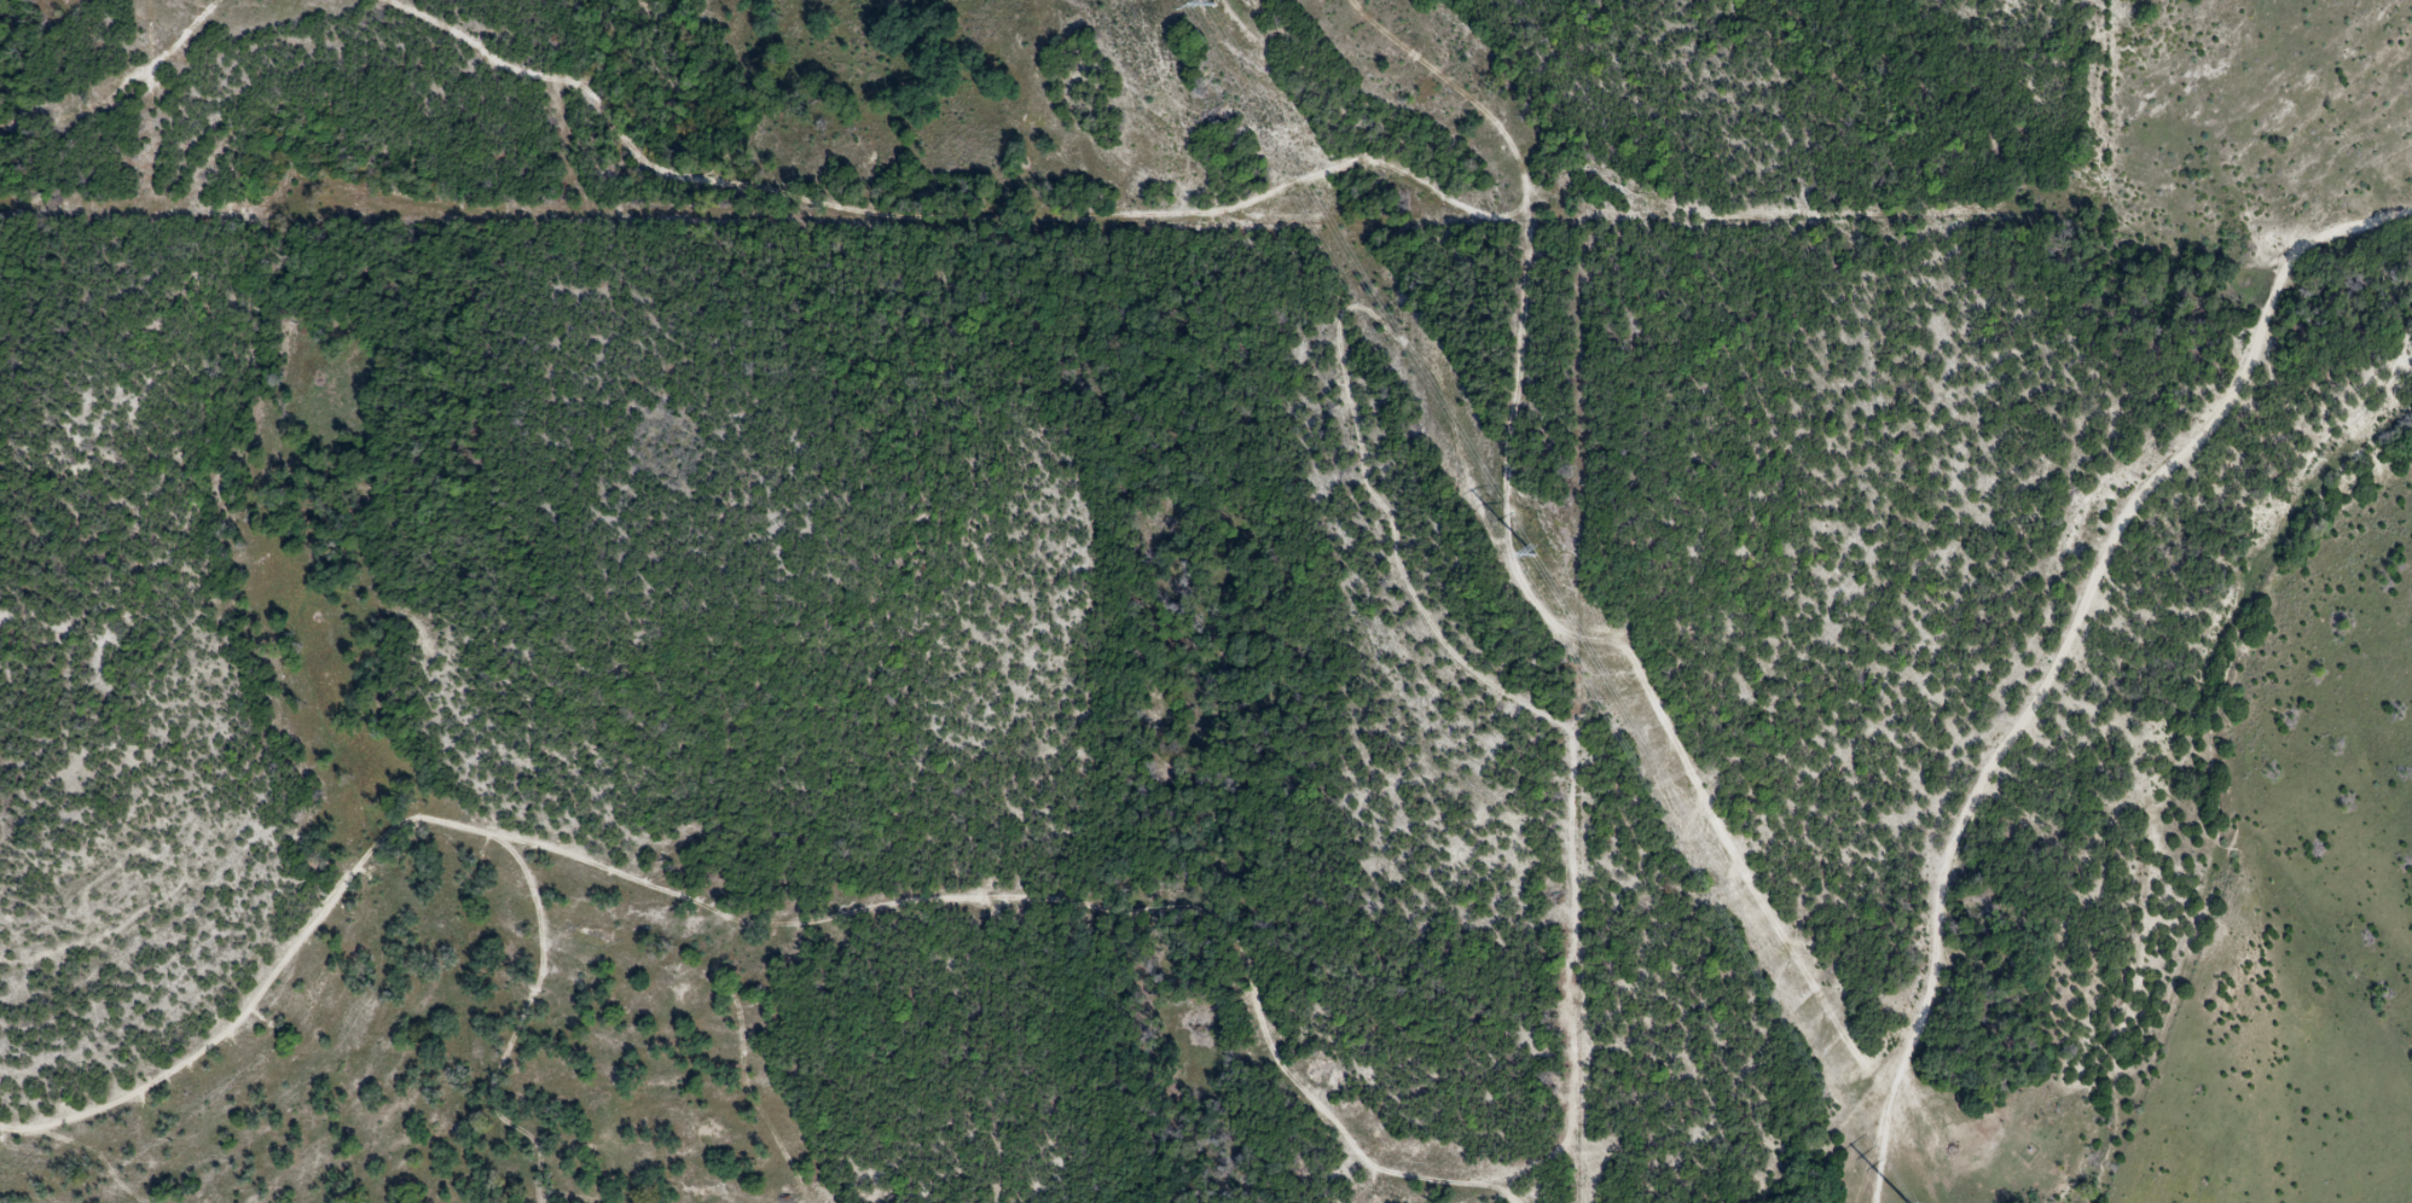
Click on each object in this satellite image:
power tower: (1218, 6)
power tower: (1538, 552)
building: (1989, 1129)

